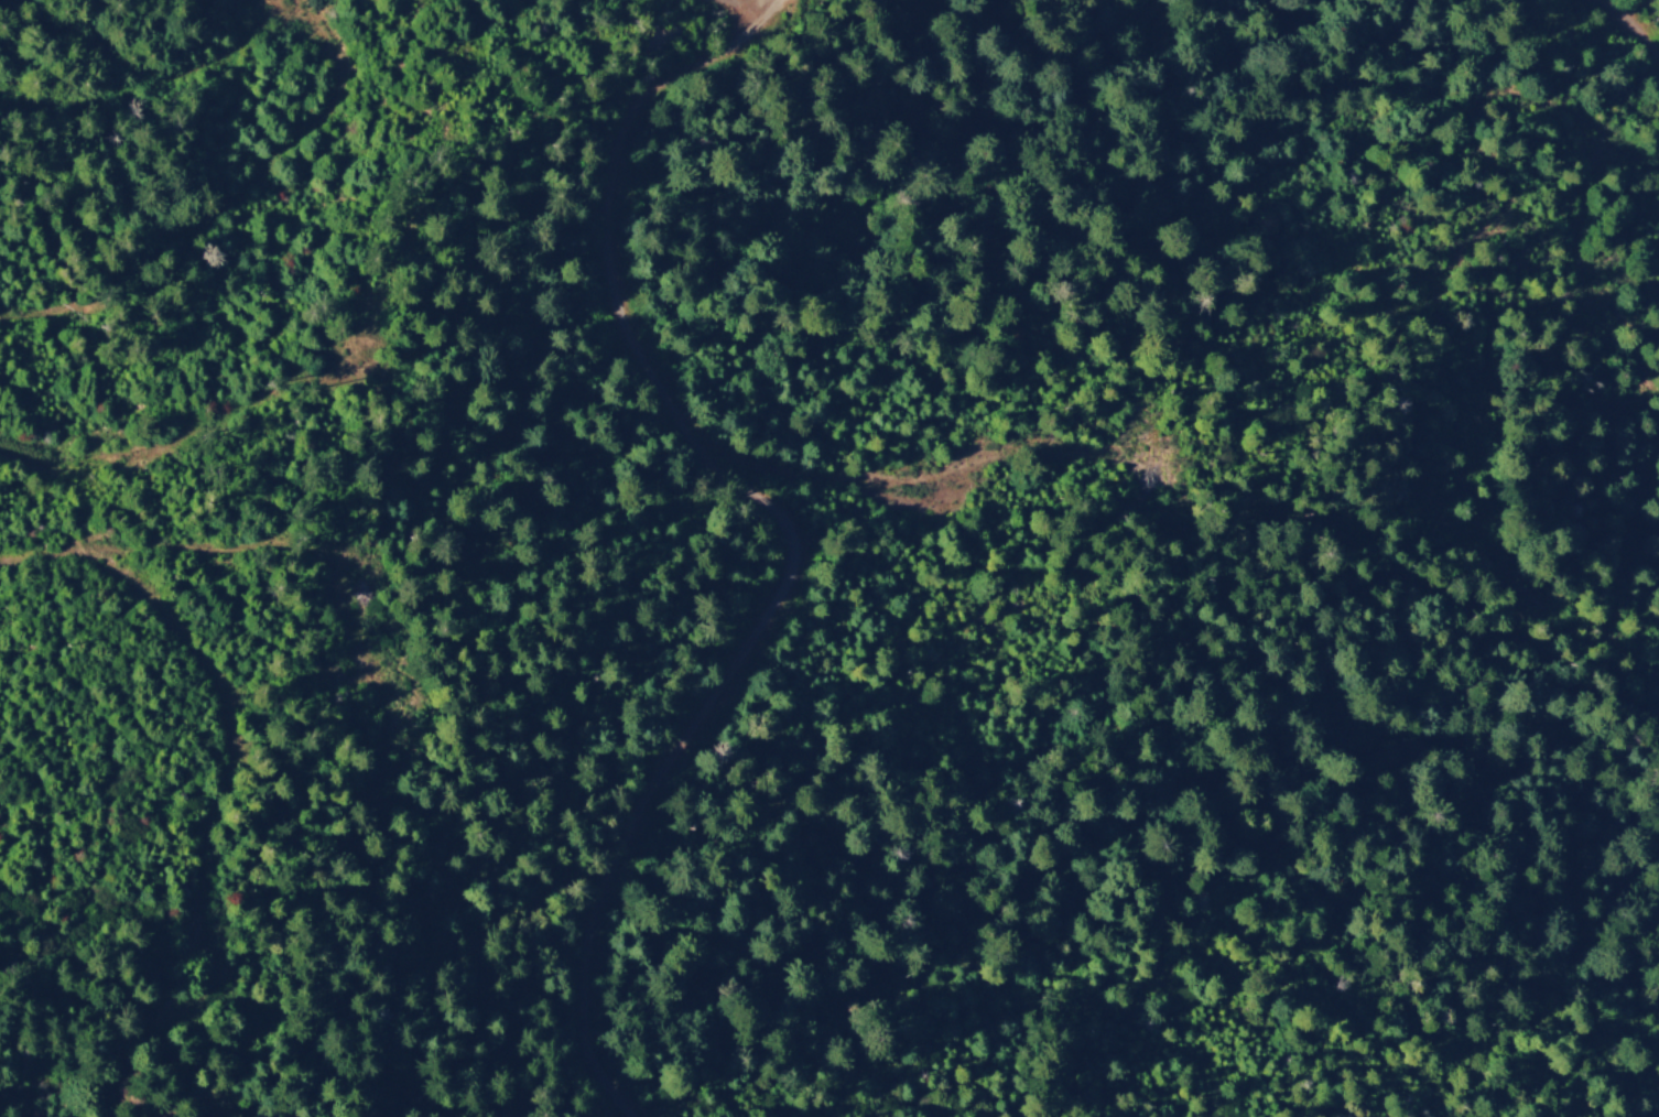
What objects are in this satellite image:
road: (798, 9)
road: (818, 9)
road: (1598, 39)
road: (131, 80)

